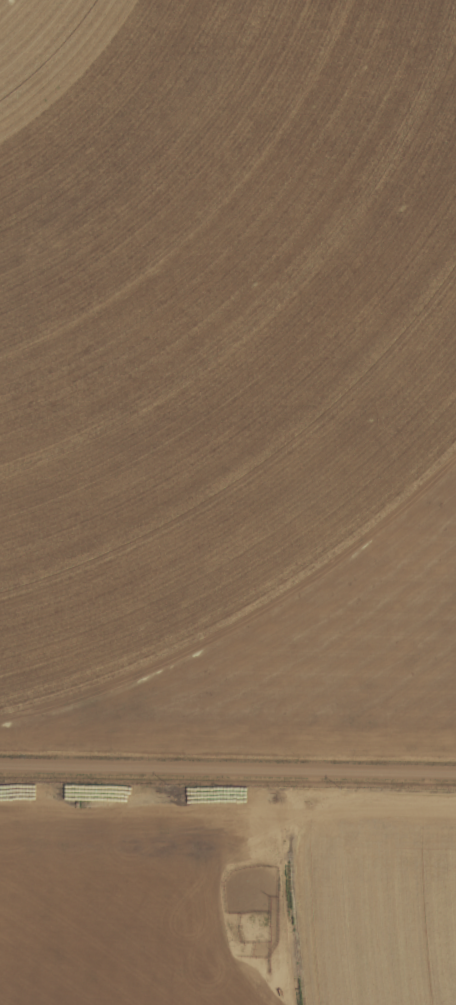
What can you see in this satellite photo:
road: (228, 769)

